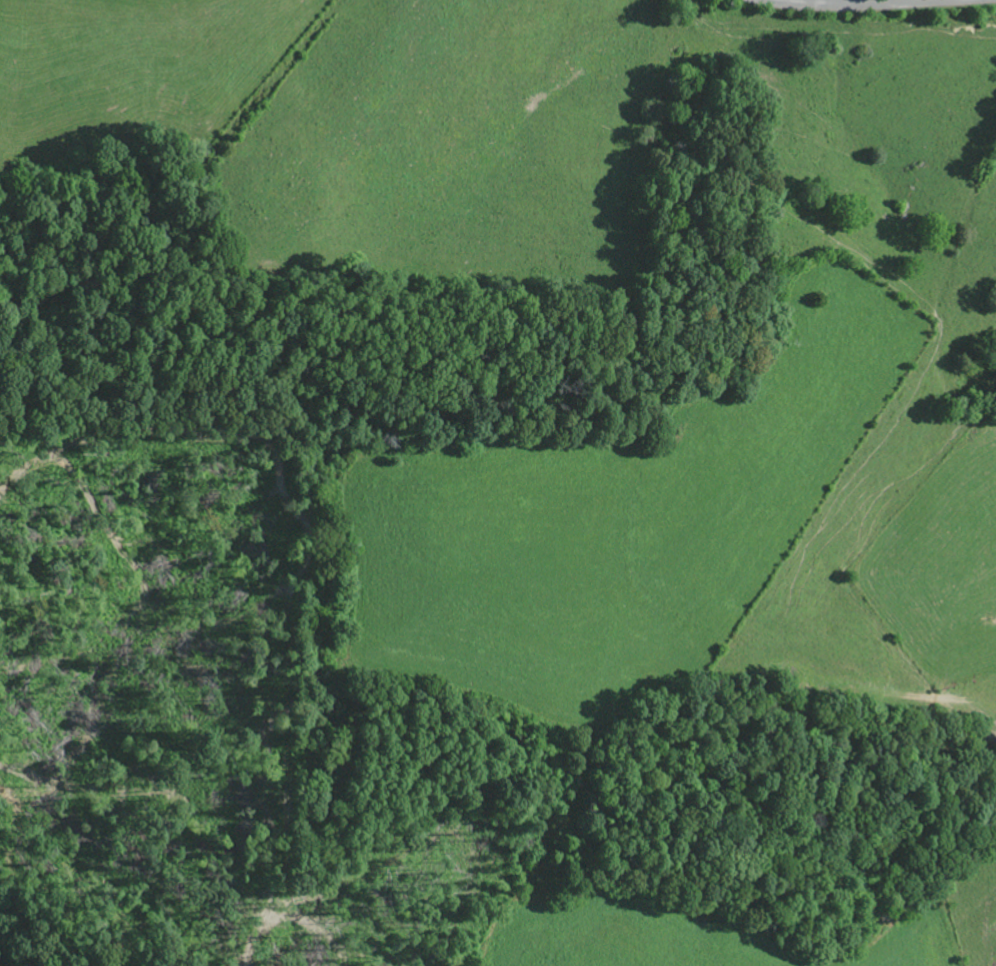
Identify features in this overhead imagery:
road: (849, 3)

